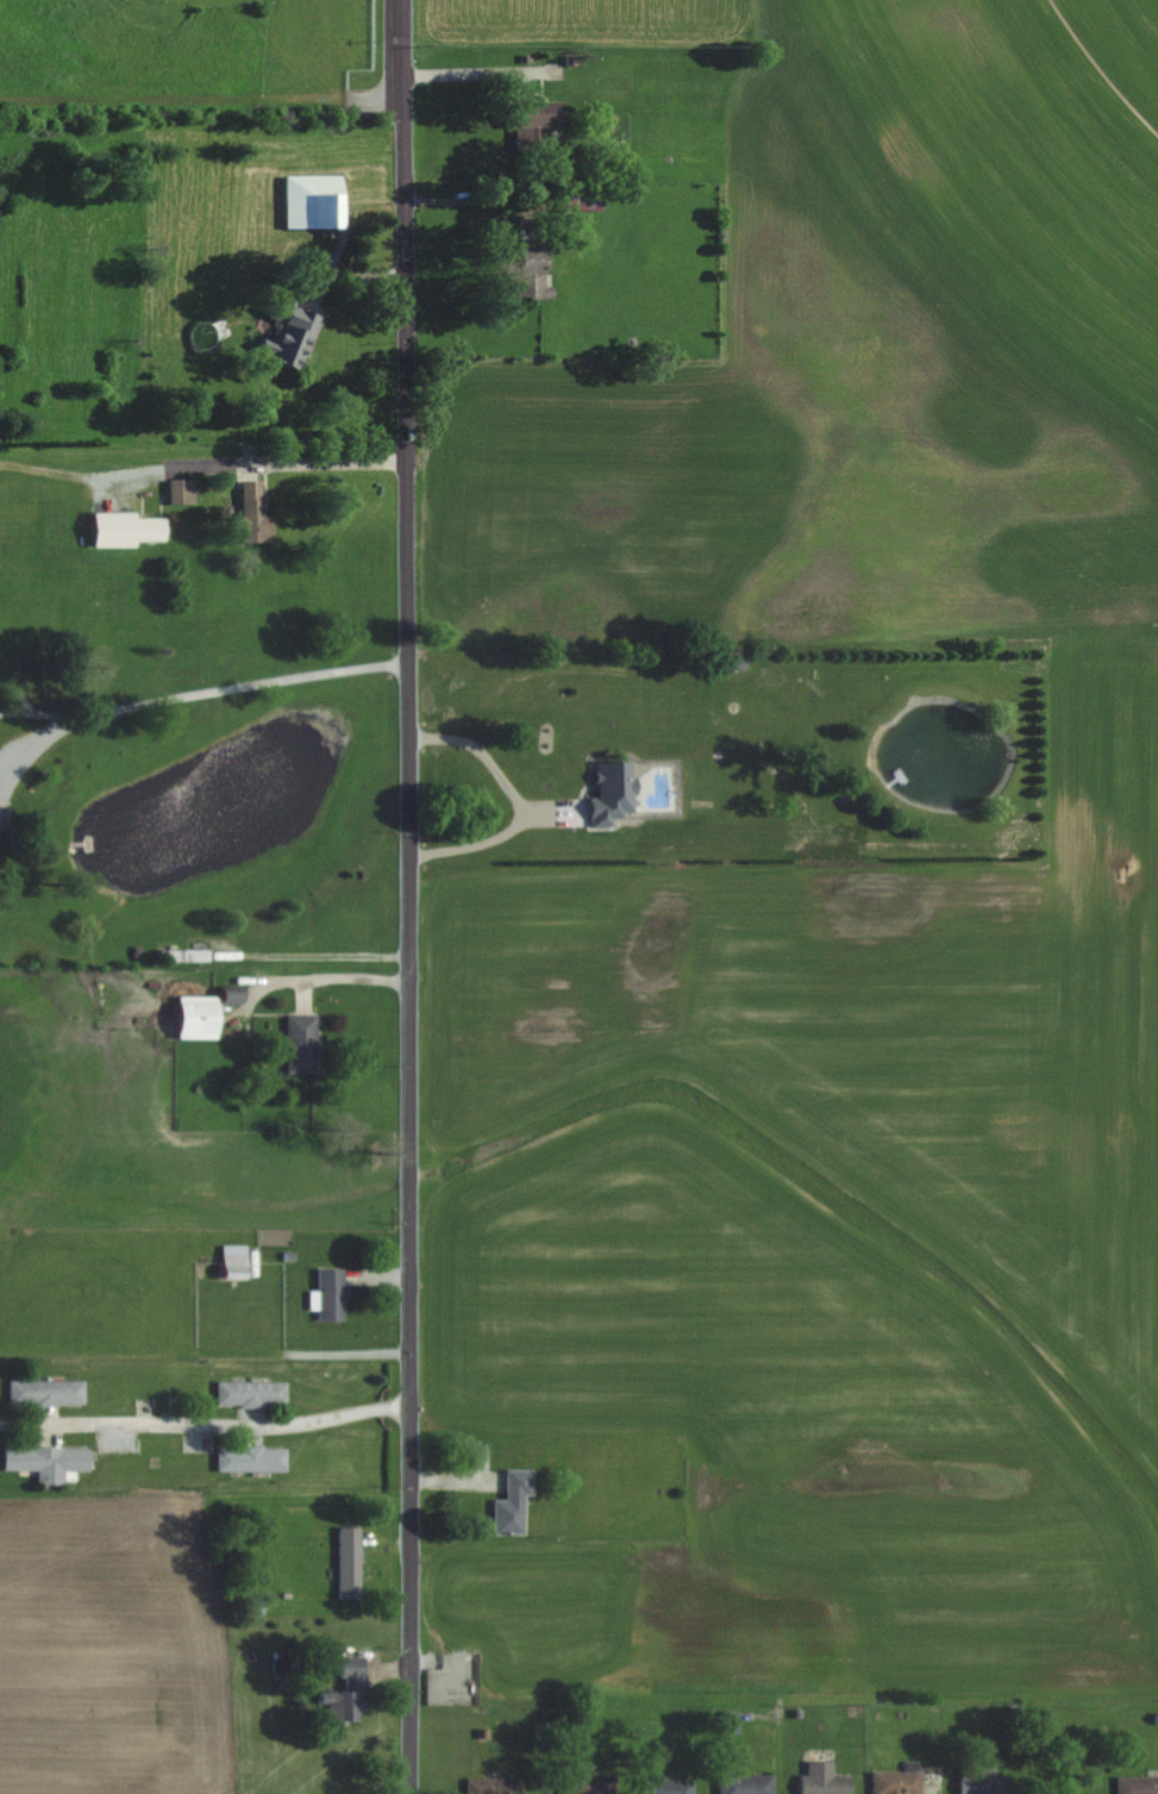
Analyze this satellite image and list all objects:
road: (471, 74)
building: (536, 124)
building: (583, 198)
building: (315, 201)
building: (532, 274)
building: (290, 333)
road: (204, 473)
building: (181, 490)
building: (253, 513)
building: (126, 529)
building: (726, 662)
road: (193, 695)
building: (613, 793)
road: (526, 800)
road: (414, 896)
crop: (830, 920)
road: (323, 955)
building: (183, 956)
building: (198, 1018)
building: (302, 1044)
building: (236, 1262)
building: (332, 1295)
building: (45, 1393)
building: (251, 1394)
road: (12, 1424)
road: (218, 1424)
building: (250, 1459)
building: (49, 1461)
building: (513, 1504)
building: (348, 1563)
building: (253, 1608)
building: (346, 1694)
building: (730, 1723)
building: (824, 1780)
building: (981, 1781)
building: (583, 1782)
building: (896, 1782)
building: (745, 1784)
building: (1137, 1784)
building: (493, 1786)
building: (665, 1787)

